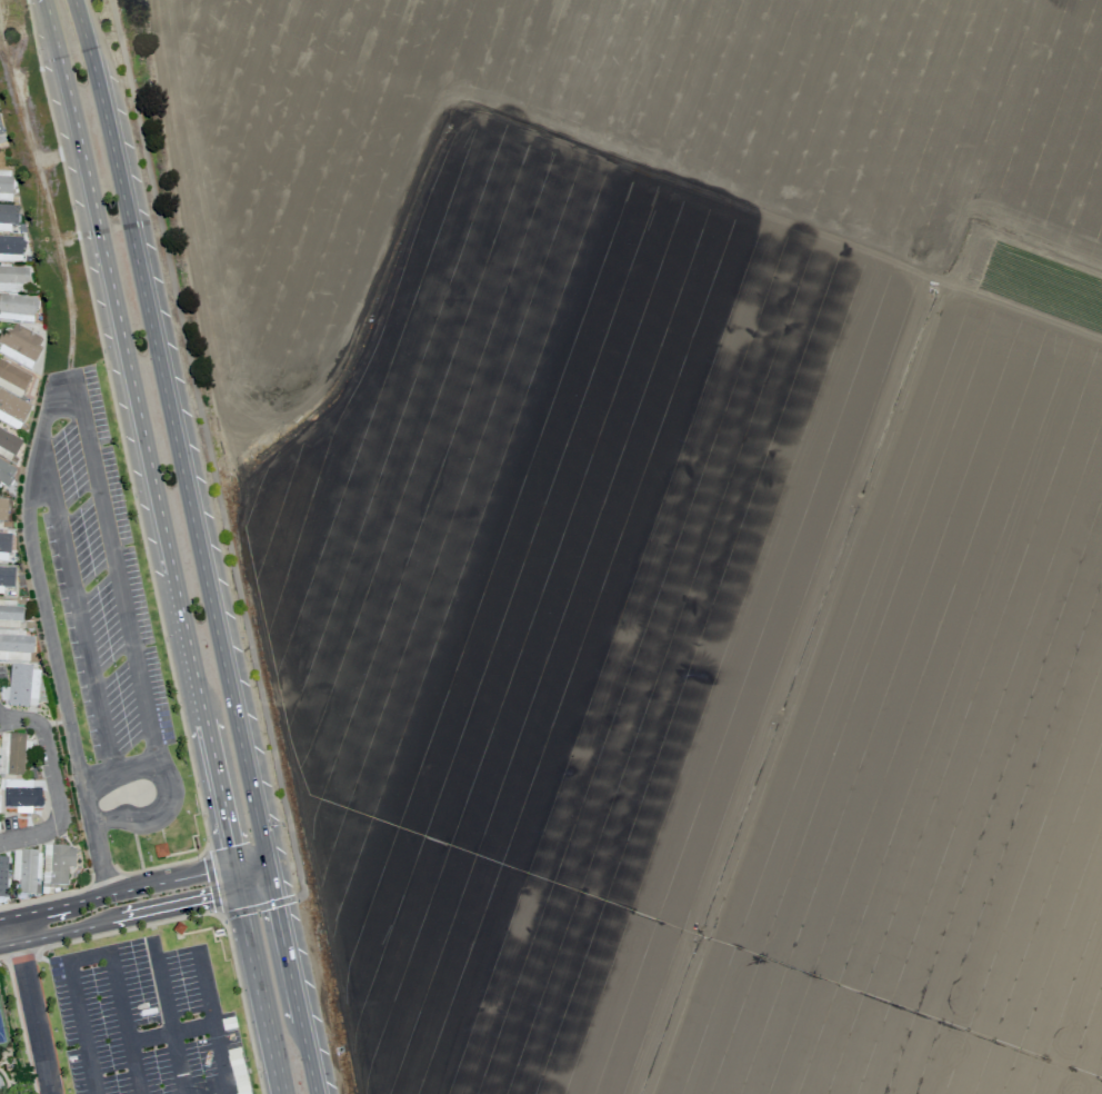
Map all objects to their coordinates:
road: (1082, 7)
building: (0, 130)
building: (6, 185)
building: (8, 216)
road: (788, 229)
building: (10, 248)
building: (13, 279)
building: (17, 308)
road: (1023, 310)
road: (379, 321)
building: (20, 345)
building: (12, 379)
road: (57, 400)
building: (11, 410)
building: (8, 444)
road: (209, 449)
building: (6, 473)
road: (731, 500)
building: (2, 508)
crop: (679, 523)
road: (139, 529)
road: (167, 546)
road: (199, 546)
building: (4, 547)
road: (246, 547)
building: (6, 577)
building: (10, 614)
road: (80, 619)
building: (16, 646)
building: (22, 685)
building: (11, 753)
road: (120, 770)
road: (51, 782)
building: (23, 793)
building: (160, 849)
building: (57, 863)
traffic signals: (234, 864)
building: (26, 869)
building: (2, 876)
road: (211, 881)
traffic signals: (272, 882)
road: (132, 888)
traffic signals: (240, 889)
road: (254, 905)
road: (137, 916)
road: (219, 916)
road: (700, 935)
road: (21, 951)
road: (93, 955)
road: (0, 957)
road: (31, 1004)
road: (168, 1017)
parking lot: (146, 1021)
road: (214, 1022)
road: (172, 1033)

